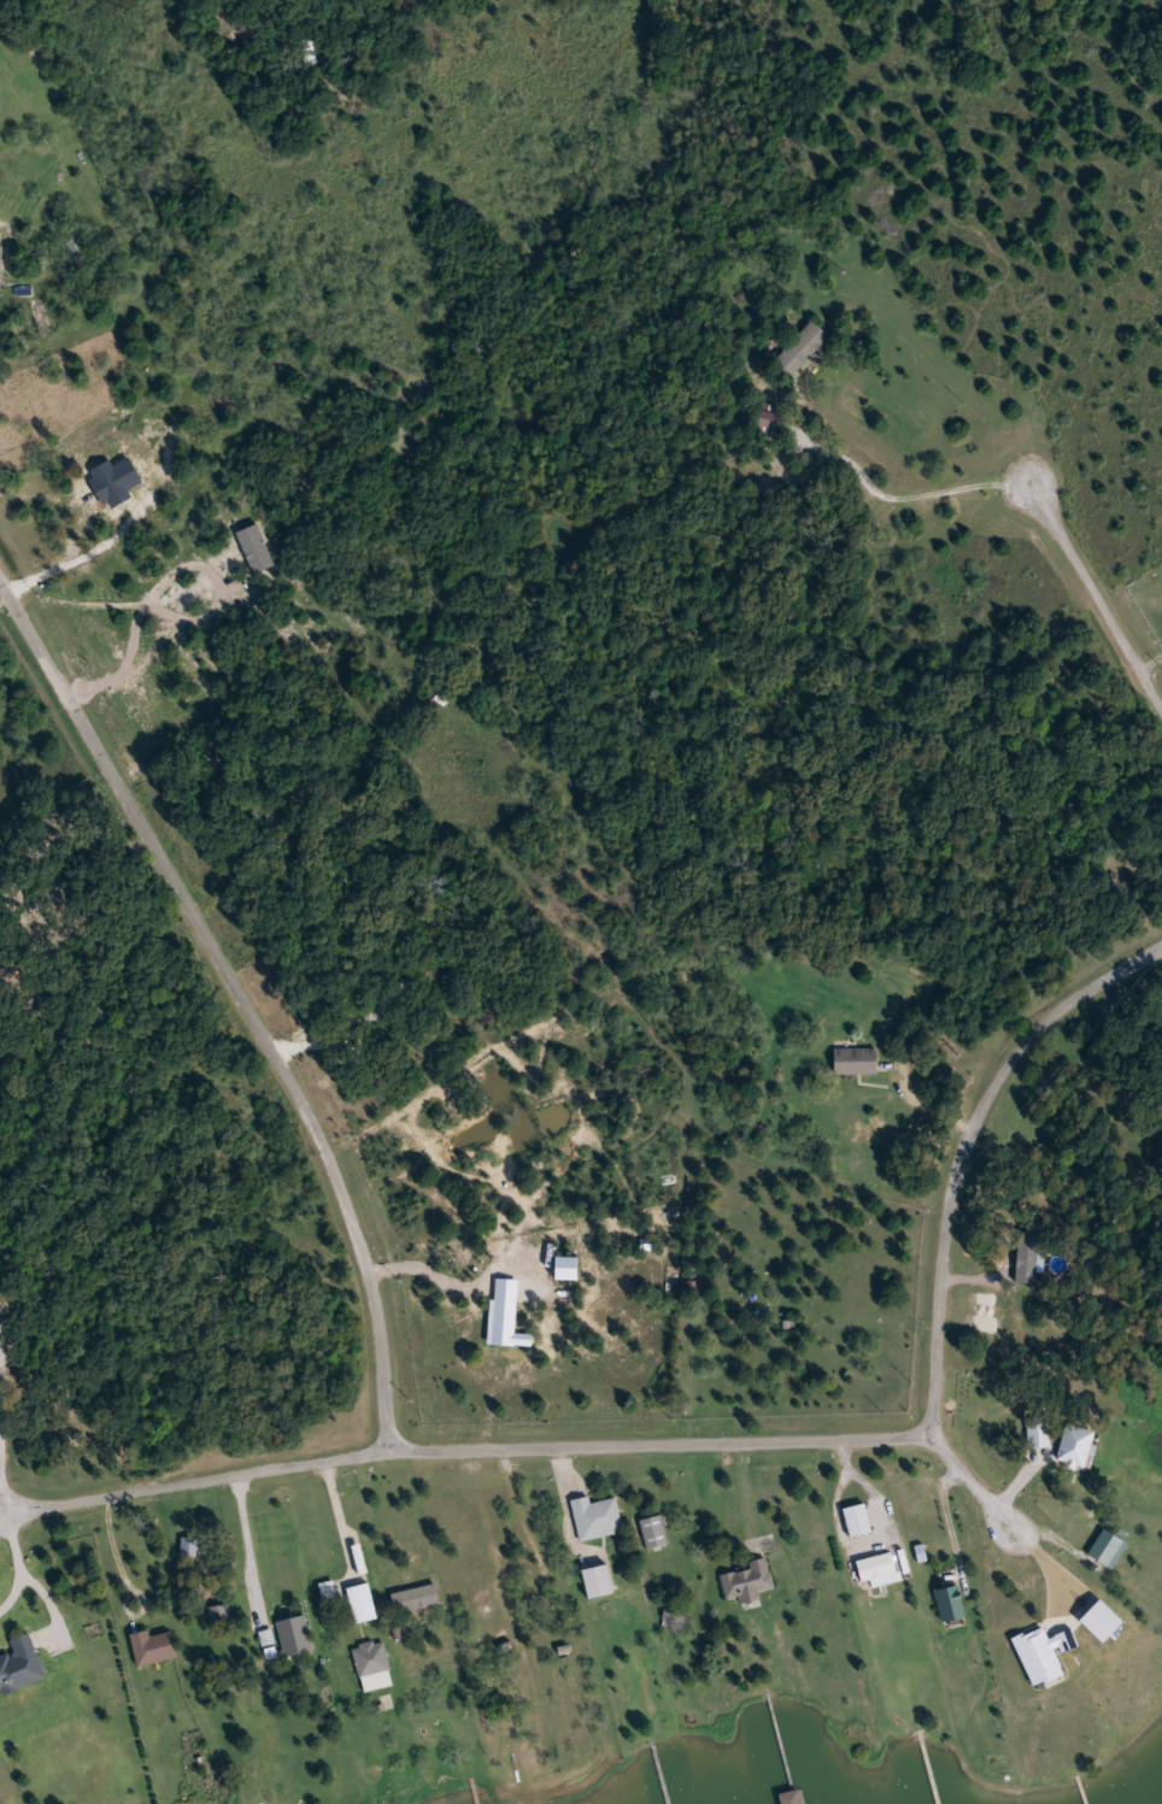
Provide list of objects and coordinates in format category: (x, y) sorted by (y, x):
building: (804, 347)
building: (768, 422)
road: (1096, 598)
road: (241, 998)
building: (857, 1060)
building: (5, 1301)
road: (751, 1440)
building: (597, 1517)
building: (858, 1521)
building: (655, 1532)
building: (878, 1570)
building: (599, 1581)
building: (749, 1581)
building: (417, 1599)
building: (360, 1603)
building: (951, 1604)
building: (676, 1616)
building: (297, 1636)
building: (155, 1647)
building: (374, 1665)
building: (793, 1798)

